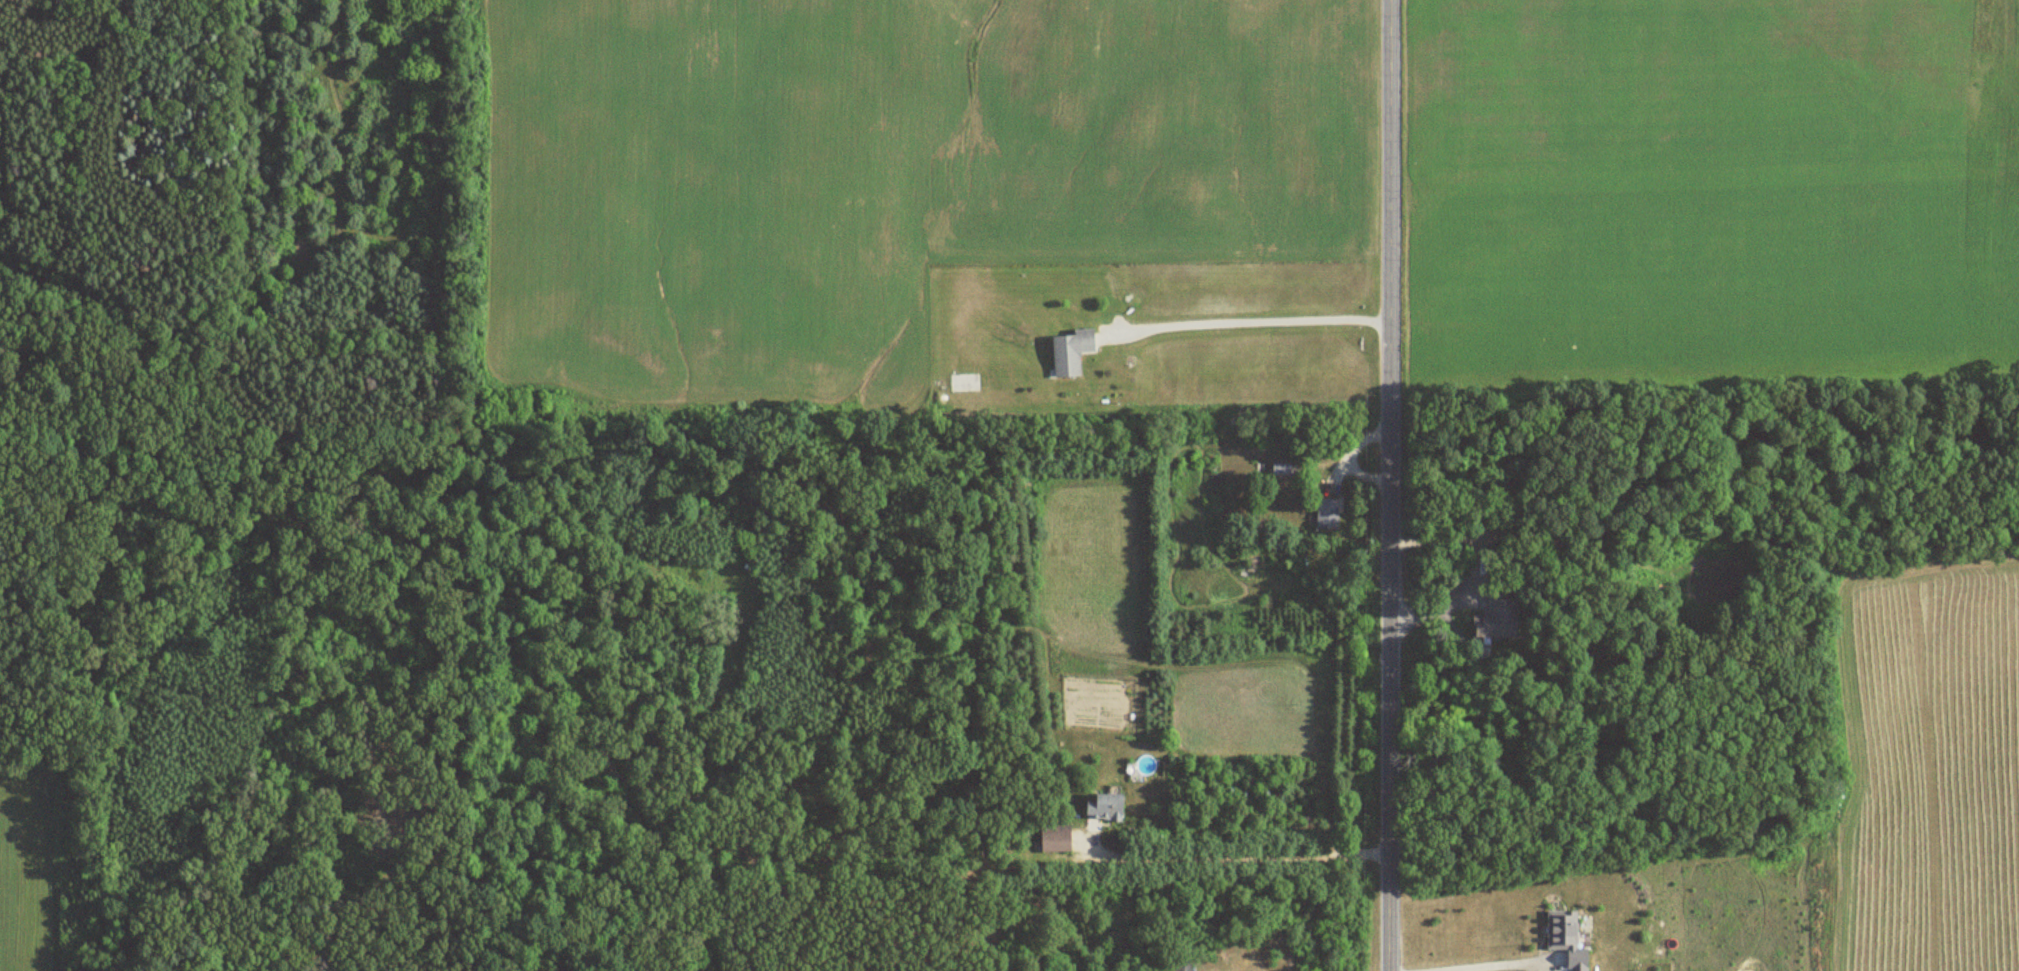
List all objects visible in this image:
road: (1249, 319)
building: (1068, 352)
building: (1279, 469)
road: (1395, 485)
building: (1325, 513)
building: (1495, 617)
building: (1103, 807)
building: (1053, 837)
road: (1242, 858)
road: (1472, 955)

